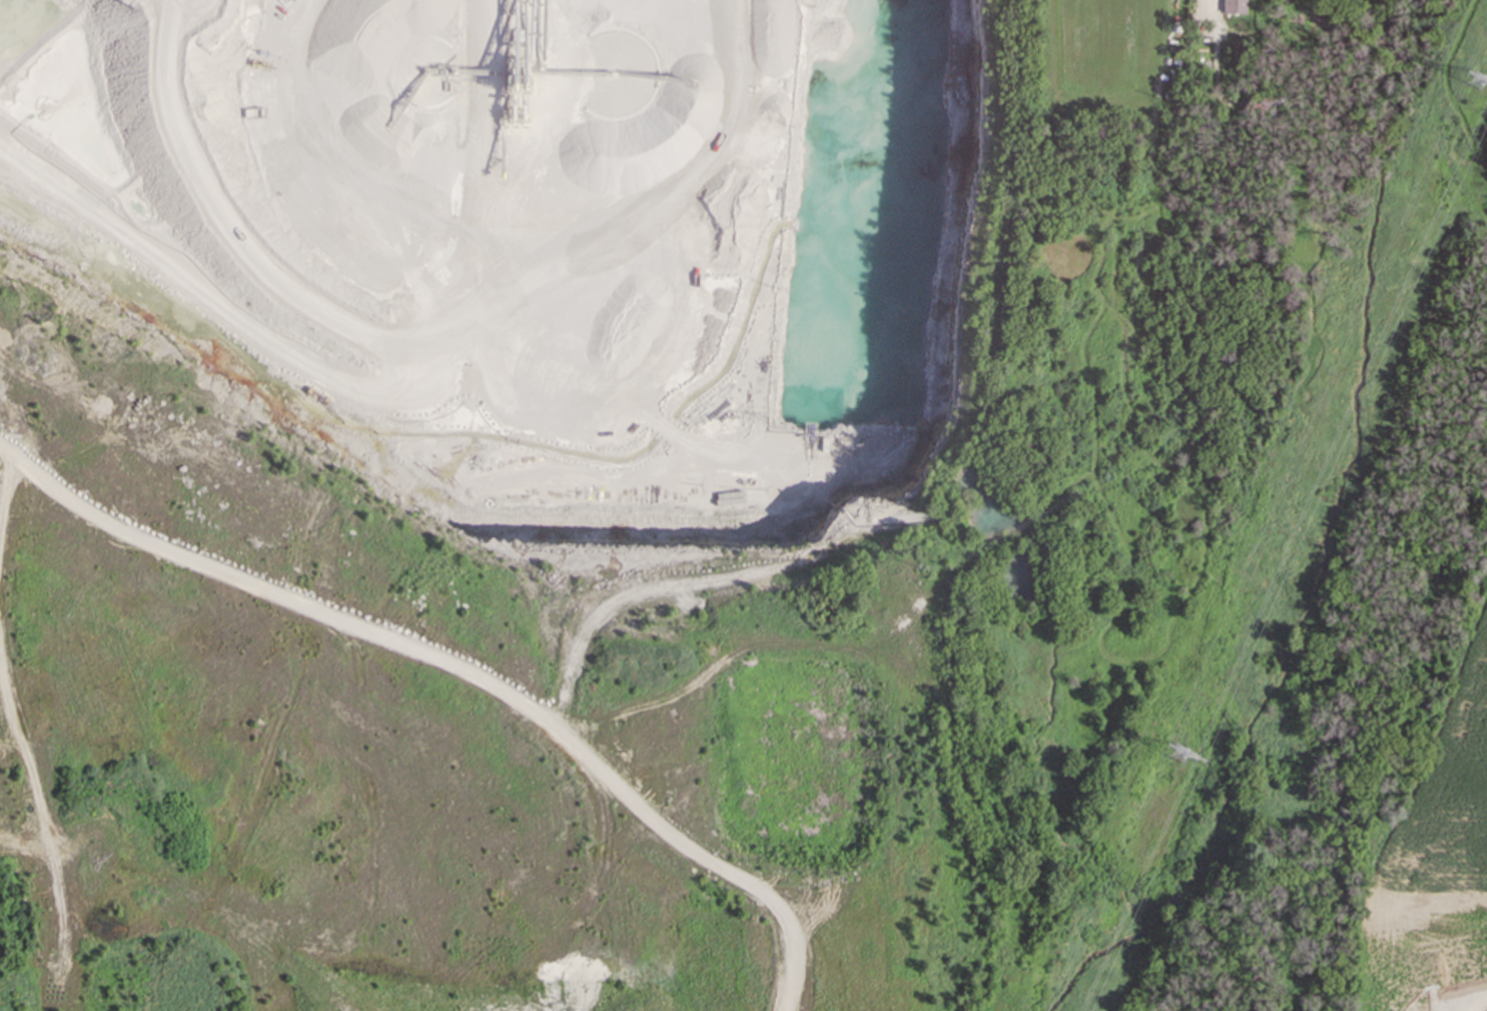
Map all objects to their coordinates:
building: (1233, 6)
road: (1215, 35)
power tower: (1476, 75)
quarry: (621, 506)
power tower: (1179, 750)
crop: (1436, 861)

